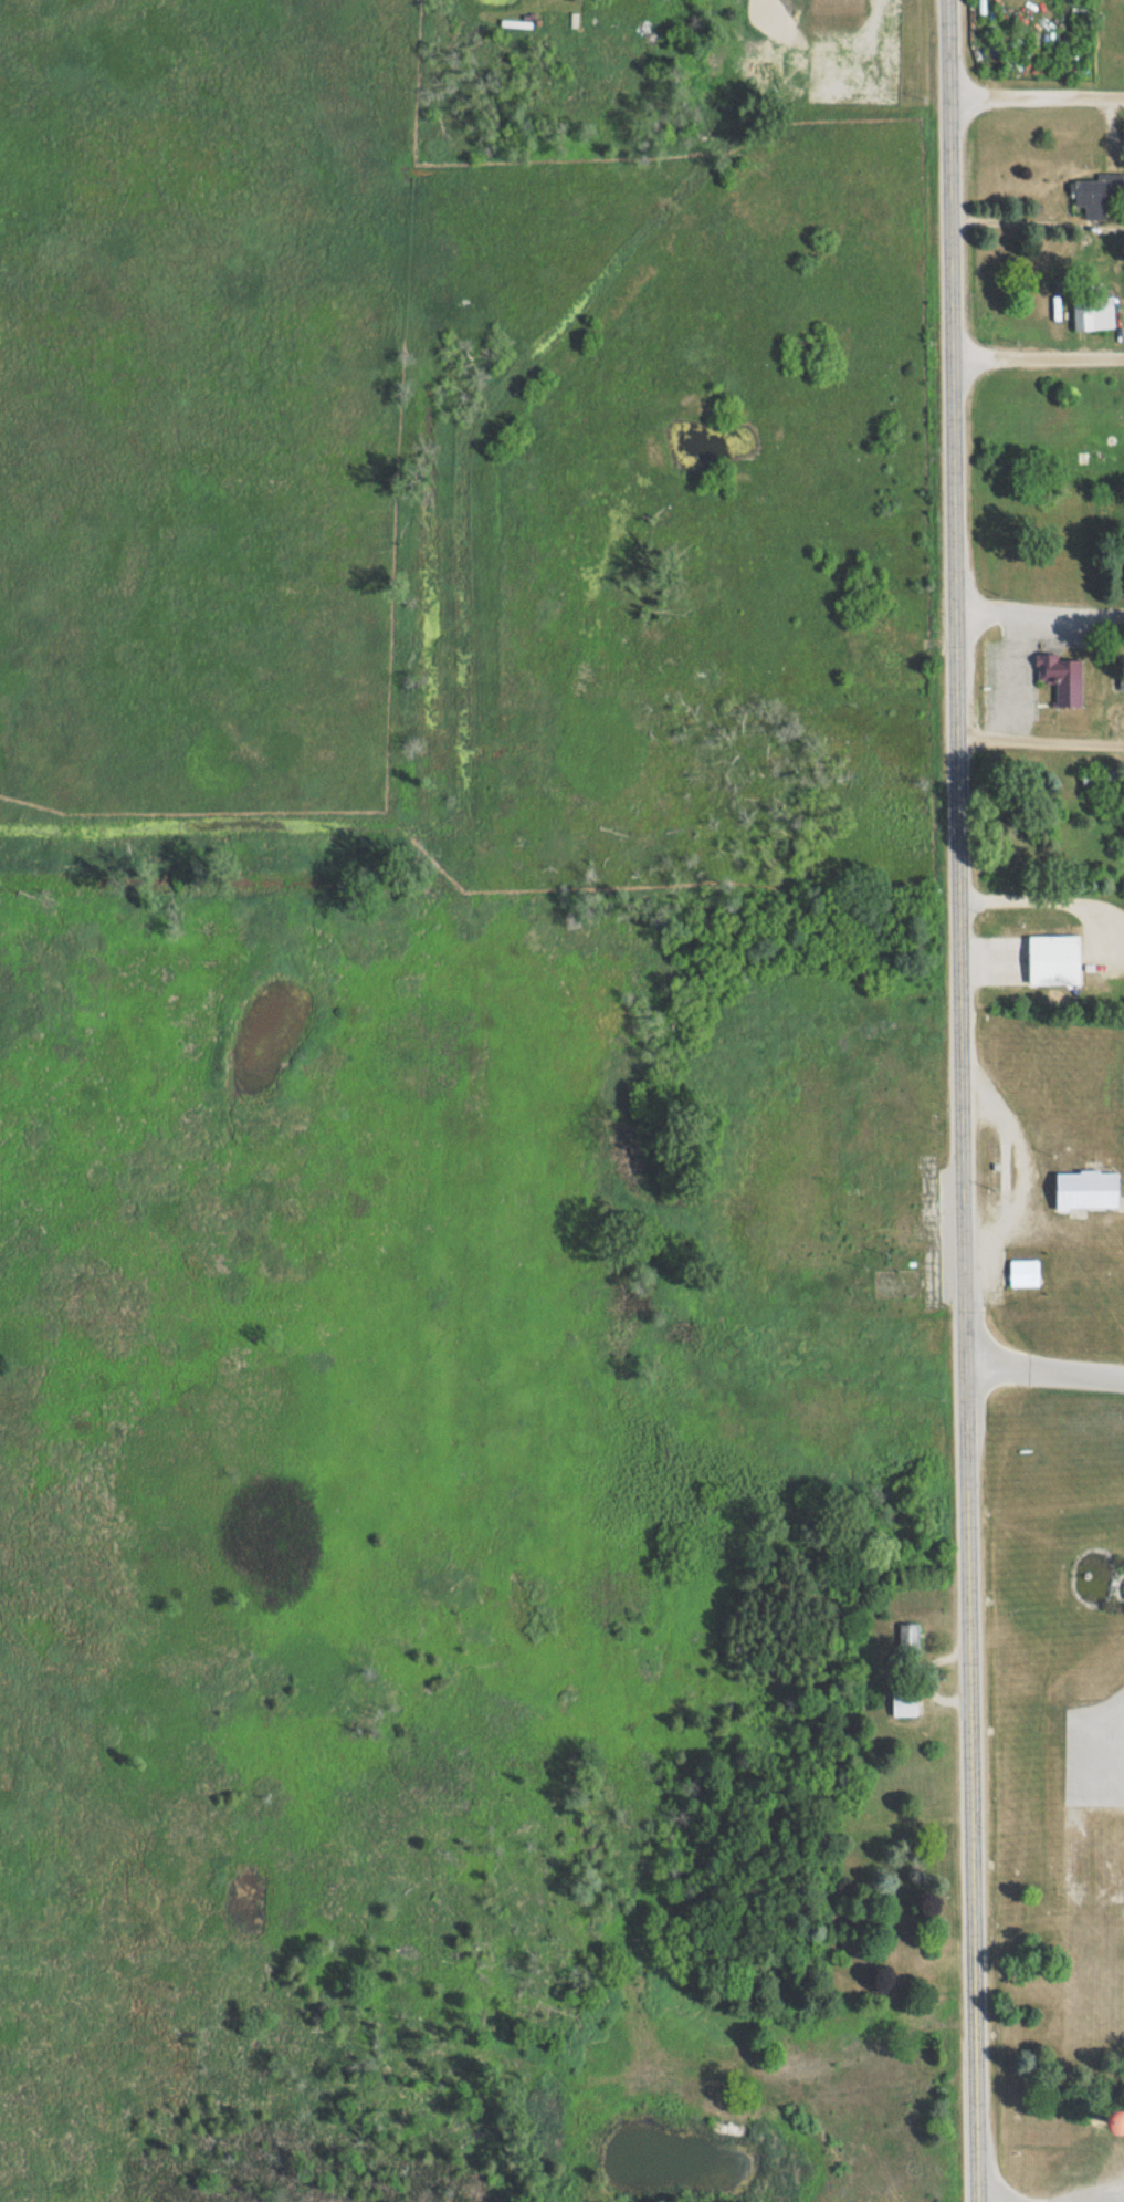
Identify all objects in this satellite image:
building: (515, 23)
road: (1036, 100)
building: (1095, 195)
building: (1093, 313)
road: (1037, 358)
building: (868, 608)
road: (1038, 612)
building: (1061, 678)
building: (1121, 681)
road: (1039, 744)
building: (1099, 779)
building: (1054, 959)
road: (964, 1100)
road: (1044, 1139)
building: (1088, 1188)
building: (1025, 1272)
building: (910, 1637)
building: (904, 1703)
building: (713, 2102)
water tower: (1111, 2121)
building: (728, 2130)
road: (991, 2187)
road: (1105, 2200)

